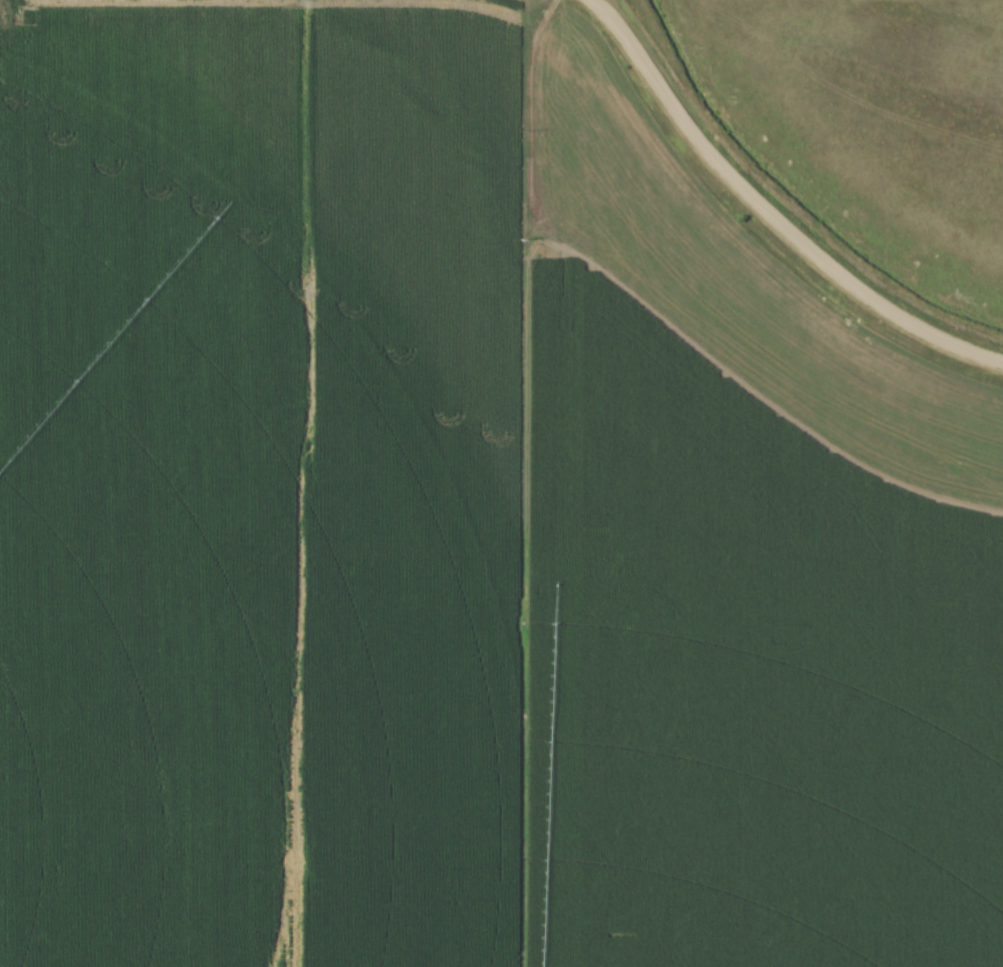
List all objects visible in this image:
road: (765, 217)

